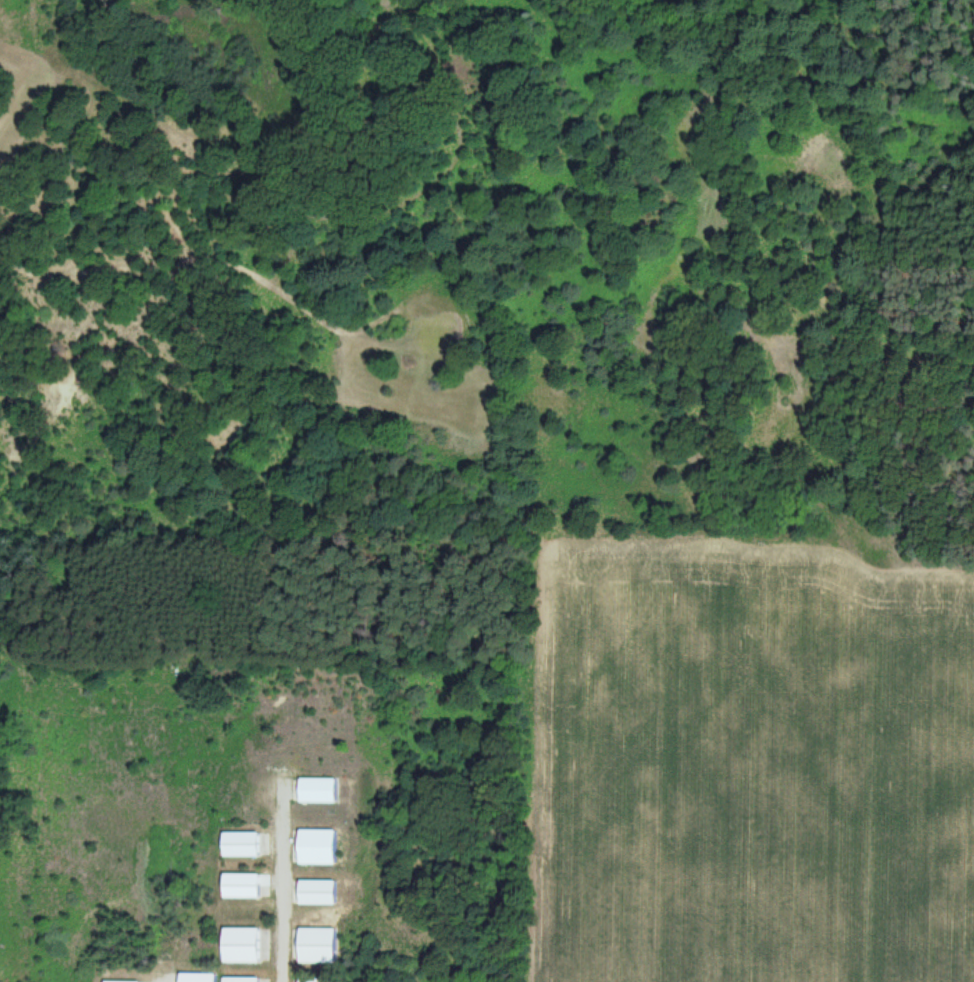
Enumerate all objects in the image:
building: (315, 791)
building: (244, 845)
building: (314, 848)
building: (243, 886)
building: (314, 893)
building: (244, 946)
building: (313, 946)
building: (198, 978)
building: (244, 980)
building: (313, 980)

